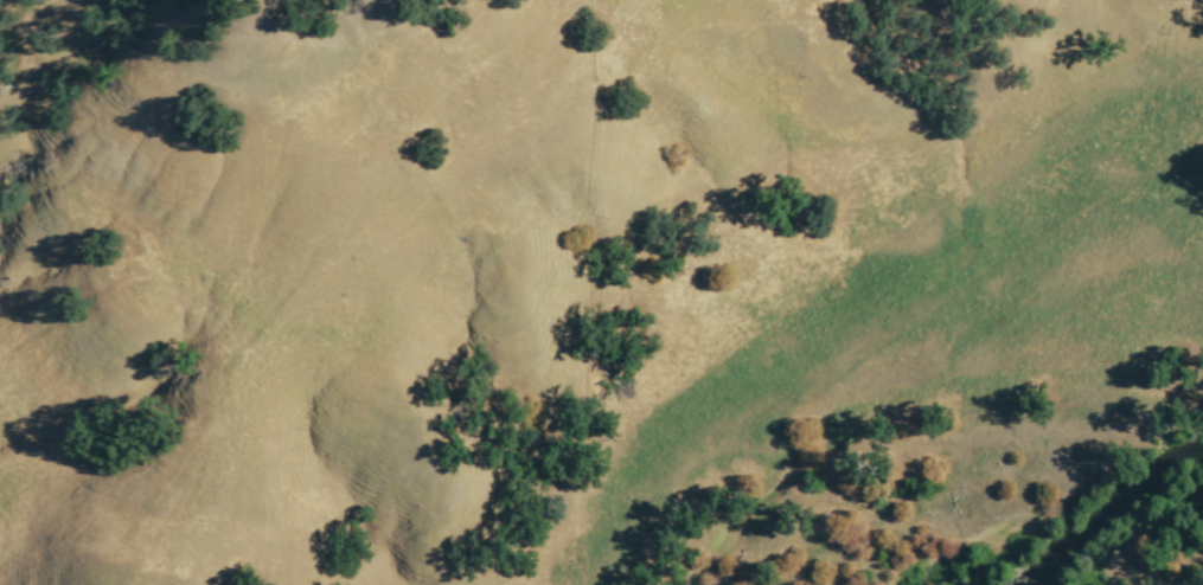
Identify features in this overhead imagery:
river: (1109, 504)

